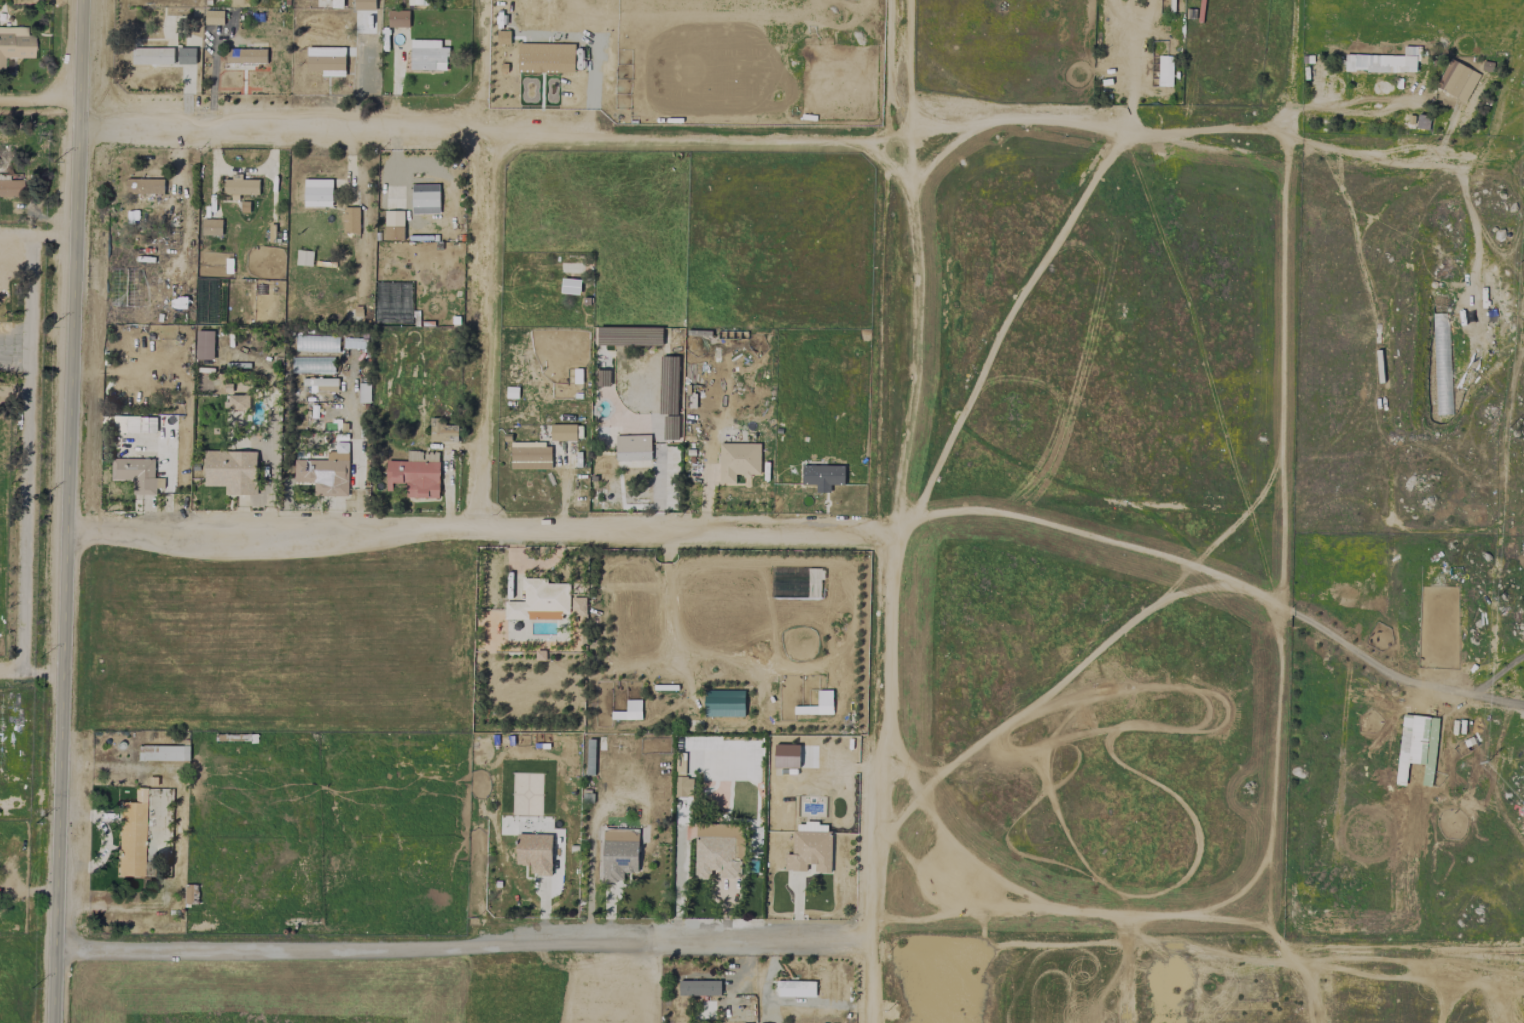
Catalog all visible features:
building: (414, 2)
building: (213, 17)
building: (397, 18)
building: (12, 29)
building: (147, 44)
building: (15, 46)
building: (1137, 49)
building: (427, 55)
building: (152, 56)
building: (185, 56)
building: (245, 56)
building: (325, 60)
building: (538, 62)
building: (1164, 70)
building: (1457, 80)
road: (41, 97)
road: (776, 140)
building: (143, 186)
building: (10, 187)
building: (317, 192)
building: (424, 199)
building: (350, 220)
building: (393, 225)
building: (211, 227)
road: (15, 234)
building: (304, 258)
road: (1285, 303)
road: (1001, 320)
road: (485, 334)
building: (629, 336)
building: (316, 343)
building: (204, 345)
building: (317, 364)
building: (604, 378)
building: (322, 385)
building: (513, 392)
building: (238, 402)
building: (135, 424)
road: (25, 430)
building: (442, 431)
building: (563, 433)
building: (632, 448)
building: (530, 455)
building: (737, 461)
building: (231, 471)
building: (136, 474)
building: (324, 474)
building: (415, 474)
building: (822, 475)
road: (1083, 499)
road: (67, 511)
road: (888, 511)
road: (477, 528)
road: (1257, 594)
building: (536, 599)
road: (32, 673)
road: (1054, 684)
building: (723, 703)
building: (628, 711)
building: (1417, 739)
building: (162, 752)
building: (590, 757)
road: (1493, 779)
building: (683, 786)
road: (30, 801)
building: (131, 834)
building: (534, 852)
building: (618, 852)
building: (719, 852)
road: (944, 858)
road: (910, 860)
road: (1207, 909)
road: (466, 940)
building: (698, 987)
building: (795, 988)

